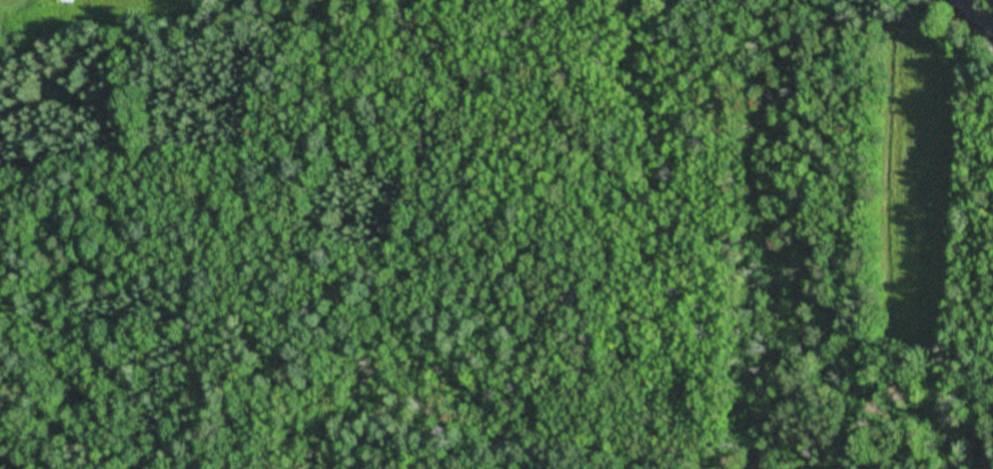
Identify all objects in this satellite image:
railway: (975, 14)

